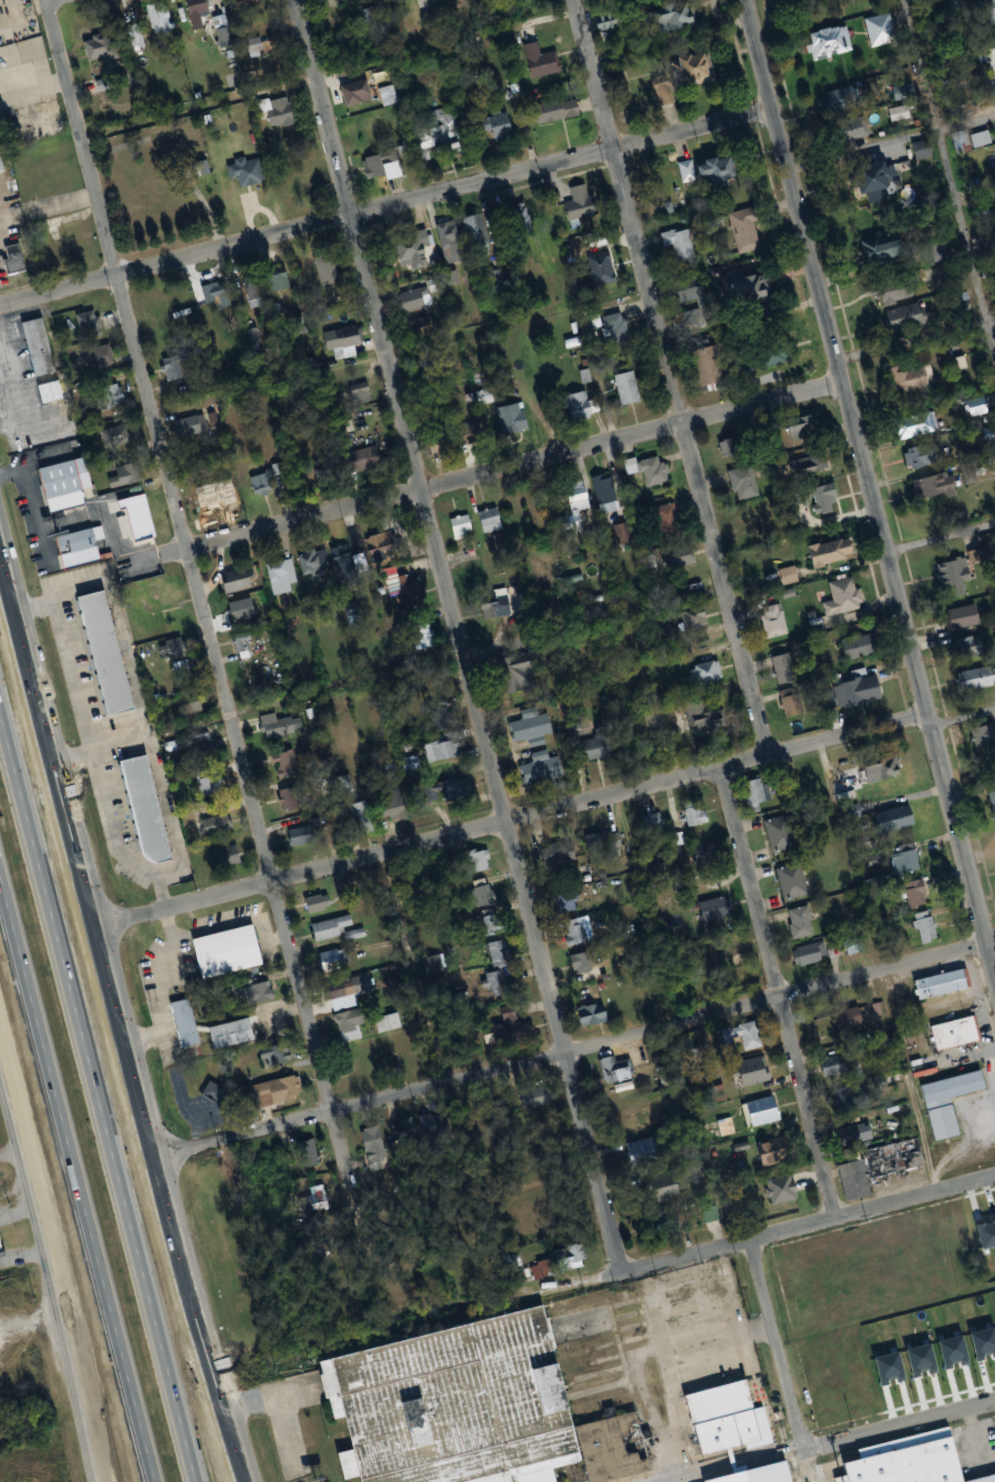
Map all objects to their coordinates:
road: (58, 1)
building: (252, 3)
building: (427, 3)
building: (462, 4)
building: (199, 8)
building: (987, 11)
building: (681, 15)
building: (162, 16)
building: (607, 20)
building: (877, 29)
building: (226, 40)
building: (833, 42)
building: (255, 46)
building: (103, 47)
building: (542, 61)
building: (702, 69)
road: (333, 76)
road: (36, 88)
building: (623, 89)
building: (902, 91)
building: (359, 93)
building: (389, 96)
building: (835, 99)
building: (560, 110)
building: (285, 112)
building: (501, 126)
building: (846, 129)
building: (440, 132)
road: (889, 134)
building: (977, 138)
building: (1, 165)
building: (384, 166)
building: (709, 169)
road: (951, 171)
building: (863, 177)
building: (582, 202)
road: (386, 209)
building: (666, 209)
building: (525, 216)
building: (477, 227)
building: (746, 230)
building: (63, 232)
building: (450, 234)
building: (681, 242)
building: (881, 248)
building: (415, 249)
building: (12, 259)
building: (325, 268)
building: (452, 277)
building: (280, 278)
building: (498, 279)
building: (253, 286)
building: (755, 287)
building: (890, 291)
building: (219, 293)
building: (415, 299)
building: (705, 306)
building: (900, 318)
building: (88, 322)
building: (617, 325)
building: (423, 327)
building: (347, 341)
road: (916, 343)
building: (37, 347)
building: (776, 352)
building: (98, 356)
building: (957, 363)
building: (712, 364)
building: (174, 367)
building: (907, 376)
road: (671, 378)
building: (630, 387)
building: (47, 392)
building: (361, 393)
building: (108, 395)
building: (583, 405)
building: (514, 416)
building: (909, 424)
building: (193, 426)
building: (805, 427)
building: (116, 434)
building: (472, 434)
building: (450, 441)
building: (738, 444)
building: (922, 454)
building: (370, 458)
building: (813, 464)
building: (651, 469)
building: (324, 471)
road: (484, 472)
building: (126, 473)
building: (266, 479)
building: (745, 482)
building: (63, 484)
building: (928, 486)
road: (869, 489)
building: (607, 492)
building: (205, 498)
building: (578, 499)
building: (826, 499)
building: (133, 518)
building: (491, 519)
building: (668, 521)
building: (463, 526)
building: (501, 541)
road: (940, 542)
building: (78, 546)
building: (384, 547)
building: (834, 551)
building: (680, 557)
building: (345, 561)
building: (315, 564)
building: (950, 573)
building: (283, 574)
building: (242, 579)
building: (411, 592)
building: (845, 596)
building: (492, 608)
building: (353, 613)
building: (697, 617)
building: (957, 617)
building: (775, 622)
road: (458, 636)
building: (245, 642)
building: (424, 642)
building: (860, 647)
building: (964, 647)
building: (176, 650)
building: (103, 655)
road: (223, 664)
building: (184, 667)
building: (786, 669)
road: (70, 673)
building: (708, 673)
building: (519, 674)
building: (973, 678)
road: (349, 684)
building: (860, 690)
building: (791, 696)
building: (196, 703)
building: (707, 717)
building: (273, 725)
building: (533, 725)
road: (963, 727)
building: (981, 733)
building: (444, 747)
building: (598, 748)
building: (409, 762)
building: (288, 764)
building: (885, 766)
building: (543, 769)
building: (213, 778)
building: (757, 790)
building: (459, 791)
building: (433, 797)
building: (293, 799)
building: (990, 802)
building: (399, 805)
building: (143, 810)
building: (362, 813)
building: (696, 813)
building: (896, 819)
building: (653, 821)
road: (516, 823)
building: (218, 825)
building: (781, 834)
building: (303, 836)
road: (112, 839)
building: (602, 847)
building: (707, 852)
building: (559, 854)
building: (232, 856)
building: (906, 859)
building: (480, 861)
building: (793, 881)
building: (917, 893)
building: (486, 895)
building: (568, 901)
building: (320, 903)
building: (717, 909)
building: (802, 922)
building: (492, 923)
building: (927, 926)
building: (333, 928)
building: (576, 932)
building: (224, 953)
building: (501, 953)
building: (811, 953)
building: (335, 960)
building: (736, 962)
building: (584, 963)
building: (496, 983)
building: (944, 984)
building: (343, 990)
building: (256, 993)
road: (777, 994)
road: (122, 1001)
building: (600, 1014)
building: (847, 1019)
building: (391, 1022)
building: (184, 1023)
building: (351, 1025)
road: (90, 1030)
building: (514, 1030)
building: (231, 1033)
building: (958, 1033)
building: (746, 1035)
road: (578, 1050)
building: (275, 1053)
building: (645, 1057)
building: (836, 1066)
building: (617, 1069)
building: (757, 1071)
road: (41, 1077)
building: (274, 1092)
building: (214, 1093)
building: (537, 1096)
building: (843, 1100)
building: (497, 1102)
building: (951, 1102)
building: (642, 1114)
building: (755, 1116)
building: (435, 1125)
building: (406, 1133)
building: (848, 1135)
building: (375, 1141)
building: (645, 1148)
building: (774, 1152)
building: (897, 1158)
building: (855, 1181)
building: (783, 1189)
road: (15, 1204)
building: (711, 1211)
building: (1, 1243)
road: (20, 1251)
building: (578, 1252)
road: (694, 1254)
road: (49, 1279)
road: (685, 1288)
road: (116, 1339)
road: (696, 1340)
road: (775, 1345)
road: (724, 1373)
building: (470, 1409)
road: (759, 1412)
building: (720, 1417)
road: (969, 1423)
road: (898, 1425)
road: (671, 1427)
building: (915, 1464)
road: (737, 1465)
road: (806, 1466)
building: (762, 1477)

